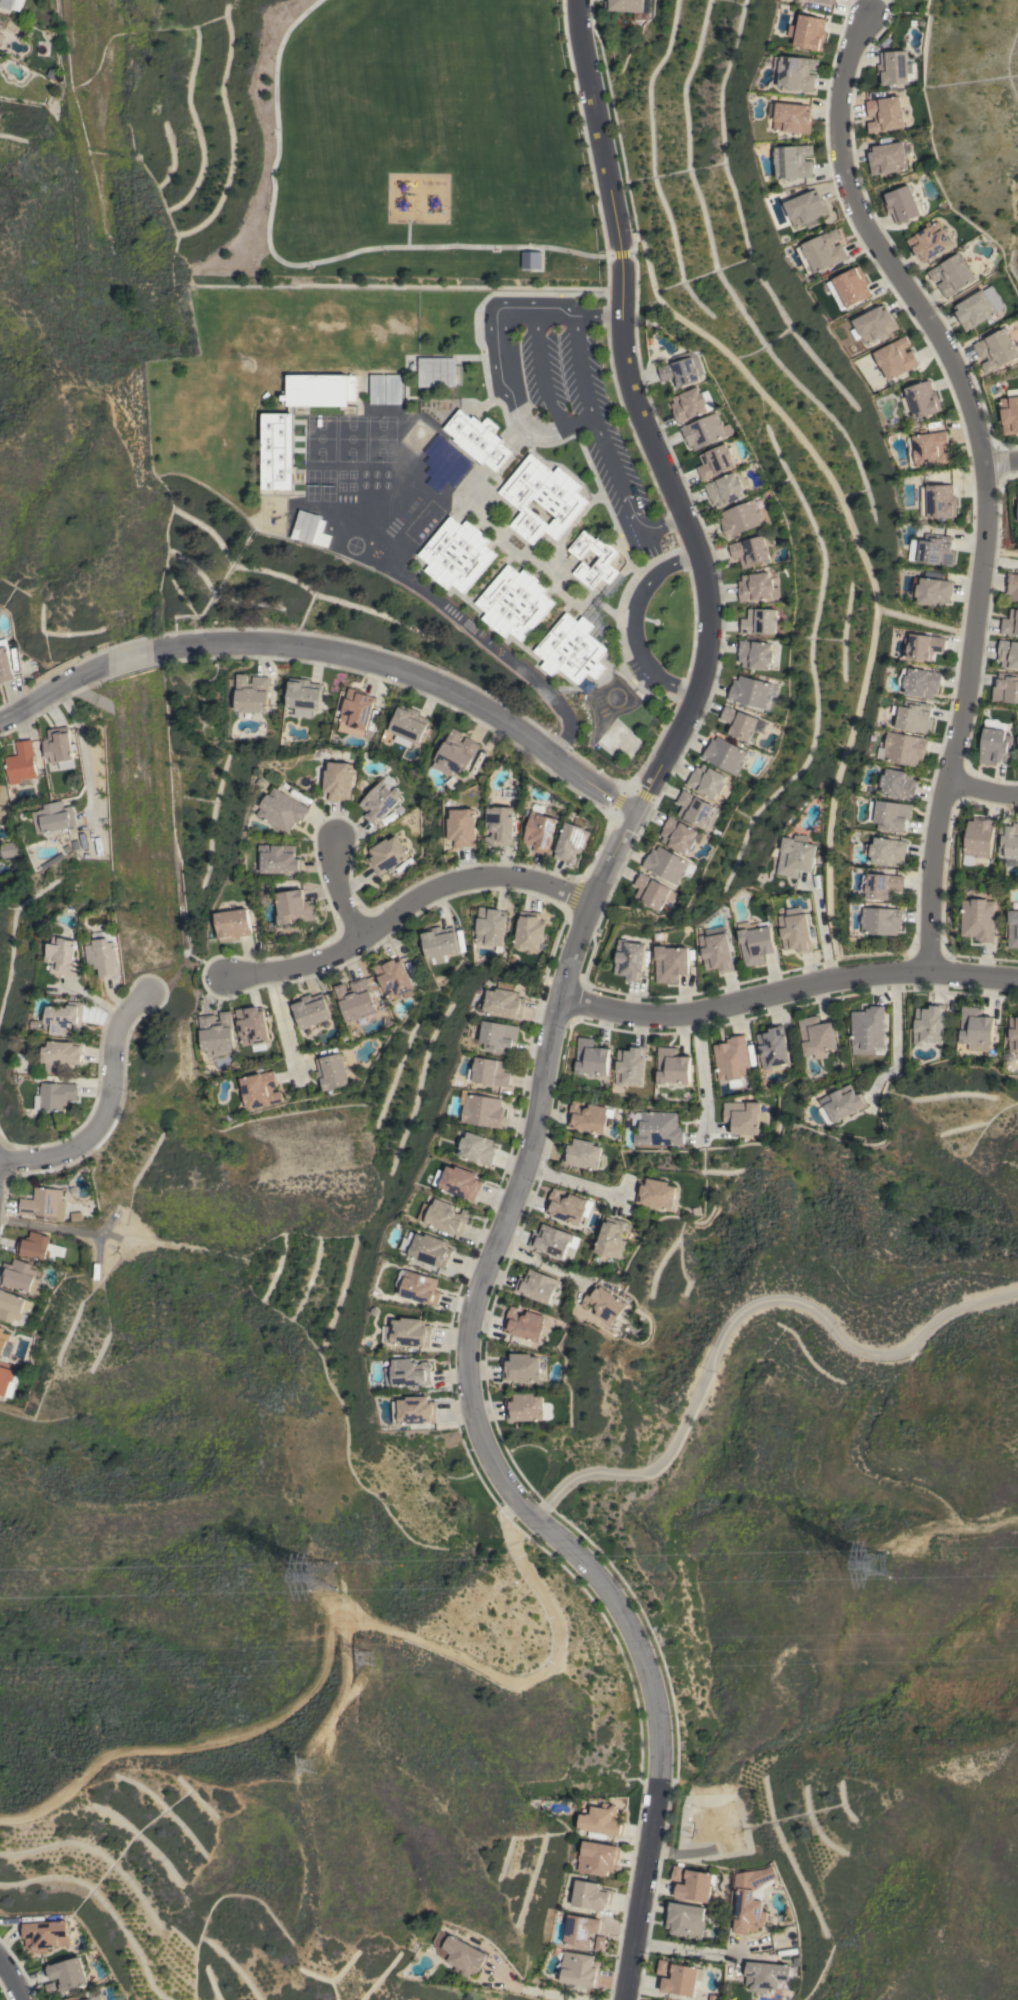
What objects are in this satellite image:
building: (827, 1)
building: (11, 4)
building: (624, 5)
building: (0, 22)
building: (0, 26)
building: (809, 32)
building: (0, 38)
building: (895, 67)
building: (795, 72)
building: (885, 114)
building: (793, 115)
park: (410, 150)
building: (887, 158)
building: (794, 161)
road: (283, 184)
building: (901, 204)
building: (807, 209)
building: (929, 241)
road: (504, 247)
building: (823, 251)
building: (530, 260)
building: (951, 274)
building: (853, 286)
building: (992, 298)
building: (974, 310)
building: (875, 324)
building: (996, 350)
building: (895, 358)
road: (539, 360)
building: (681, 369)
building: (436, 371)
road: (510, 378)
building: (377, 388)
building: (393, 388)
building: (921, 399)
building: (690, 403)
building: (1009, 411)
road: (594, 429)
building: (704, 431)
building: (477, 438)
road: (1004, 446)
building: (928, 448)
building: (277, 451)
road: (997, 460)
building: (716, 461)
building: (445, 463)
road: (1002, 464)
road: (985, 476)
building: (727, 488)
building: (1017, 495)
building: (542, 498)
building: (938, 501)
building: (740, 518)
building: (310, 528)
building: (932, 549)
road: (1000, 549)
building: (749, 551)
building: (457, 554)
road: (1000, 556)
road: (863, 559)
building: (603, 560)
building: (1012, 586)
building: (756, 587)
building: (932, 591)
building: (515, 602)
road: (635, 621)
building: (758, 621)
road: (924, 622)
building: (1010, 622)
road: (465, 626)
building: (924, 646)
building: (571, 649)
building: (1008, 653)
building: (754, 654)
road: (128, 659)
building: (5, 662)
road: (412, 669)
building: (920, 681)
building: (585, 683)
building: (1006, 688)
building: (752, 691)
road: (52, 693)
building: (251, 693)
building: (303, 696)
building: (357, 709)
building: (914, 716)
building: (739, 723)
building: (408, 725)
building: (1017, 736)
building: (994, 742)
building: (59, 747)
building: (905, 748)
road: (84, 753)
building: (455, 753)
building: (724, 754)
building: (21, 763)
building: (338, 780)
building: (706, 780)
building: (899, 784)
road: (983, 790)
building: (379, 800)
building: (693, 809)
building: (283, 810)
building: (889, 815)
building: (53, 817)
building: (500, 825)
building: (463, 827)
building: (540, 831)
building: (678, 834)
building: (977, 839)
building: (572, 840)
building: (1008, 843)
building: (9, 849)
building: (886, 851)
building: (386, 855)
building: (796, 855)
building: (280, 859)
building: (667, 865)
building: (881, 885)
road: (339, 890)
building: (650, 890)
road: (405, 902)
building: (294, 907)
building: (978, 919)
building: (879, 921)
building: (233, 924)
building: (491, 927)
building: (1013, 928)
building: (529, 930)
building: (795, 930)
road: (822, 930)
building: (756, 941)
building: (439, 943)
building: (716, 952)
building: (64, 956)
building: (104, 957)
building: (630, 960)
building: (671, 963)
building: (394, 978)
road: (789, 990)
building: (354, 999)
building: (504, 1003)
building: (310, 1010)
road: (561, 1012)
road: (281, 1015)
building: (65, 1018)
building: (929, 1024)
building: (975, 1026)
building: (252, 1027)
building: (216, 1031)
building: (868, 1031)
road: (896, 1032)
building: (1013, 1034)
building: (499, 1036)
building: (816, 1036)
building: (773, 1048)
building: (63, 1054)
building: (590, 1057)
building: (731, 1061)
building: (629, 1065)
building: (671, 1066)
building: (330, 1071)
road: (701, 1071)
building: (490, 1072)
building: (260, 1089)
building: (56, 1095)
road: (103, 1104)
building: (840, 1104)
building: (483, 1110)
building: (588, 1117)
building: (743, 1117)
building: (657, 1128)
building: (478, 1148)
building: (581, 1153)
road: (575, 1178)
building: (460, 1182)
building: (656, 1193)
building: (43, 1203)
building: (566, 1206)
building: (445, 1216)
building: (611, 1238)
building: (550, 1240)
building: (34, 1245)
building: (429, 1249)
road: (539, 1265)
building: (20, 1276)
building: (420, 1286)
building: (537, 1286)
building: (603, 1303)
building: (12, 1305)
road: (740, 1314)
building: (524, 1324)
building: (409, 1332)
building: (4, 1344)
building: (521, 1367)
building: (408, 1372)
building: (4, 1378)
building: (527, 1408)
building: (414, 1410)
power tower: (333, 1580)
power tower: (371, 1659)
power tower: (310, 1770)
building: (602, 1820)
building: (597, 1858)
building: (676, 1872)
building: (696, 1886)
building: (590, 1895)
building: (750, 1899)
building: (685, 1919)
building: (580, 1929)
building: (44, 1934)
building: (599, 1943)
road: (703, 1951)
building: (458, 1953)
building: (661, 1967)
building: (579, 1969)
building: (68, 1974)
building: (767, 1976)
road: (13, 1979)
building: (682, 1979)
road: (528, 1989)
building: (51, 1990)
building: (74, 1998)
building: (87, 1999)

